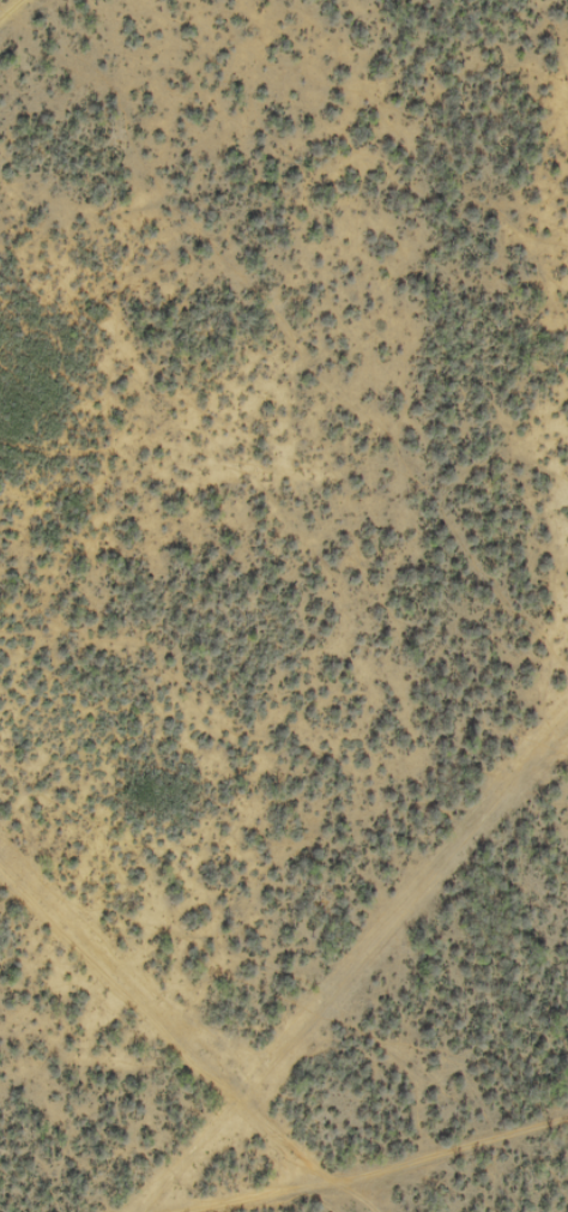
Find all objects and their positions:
road: (463, 1183)

